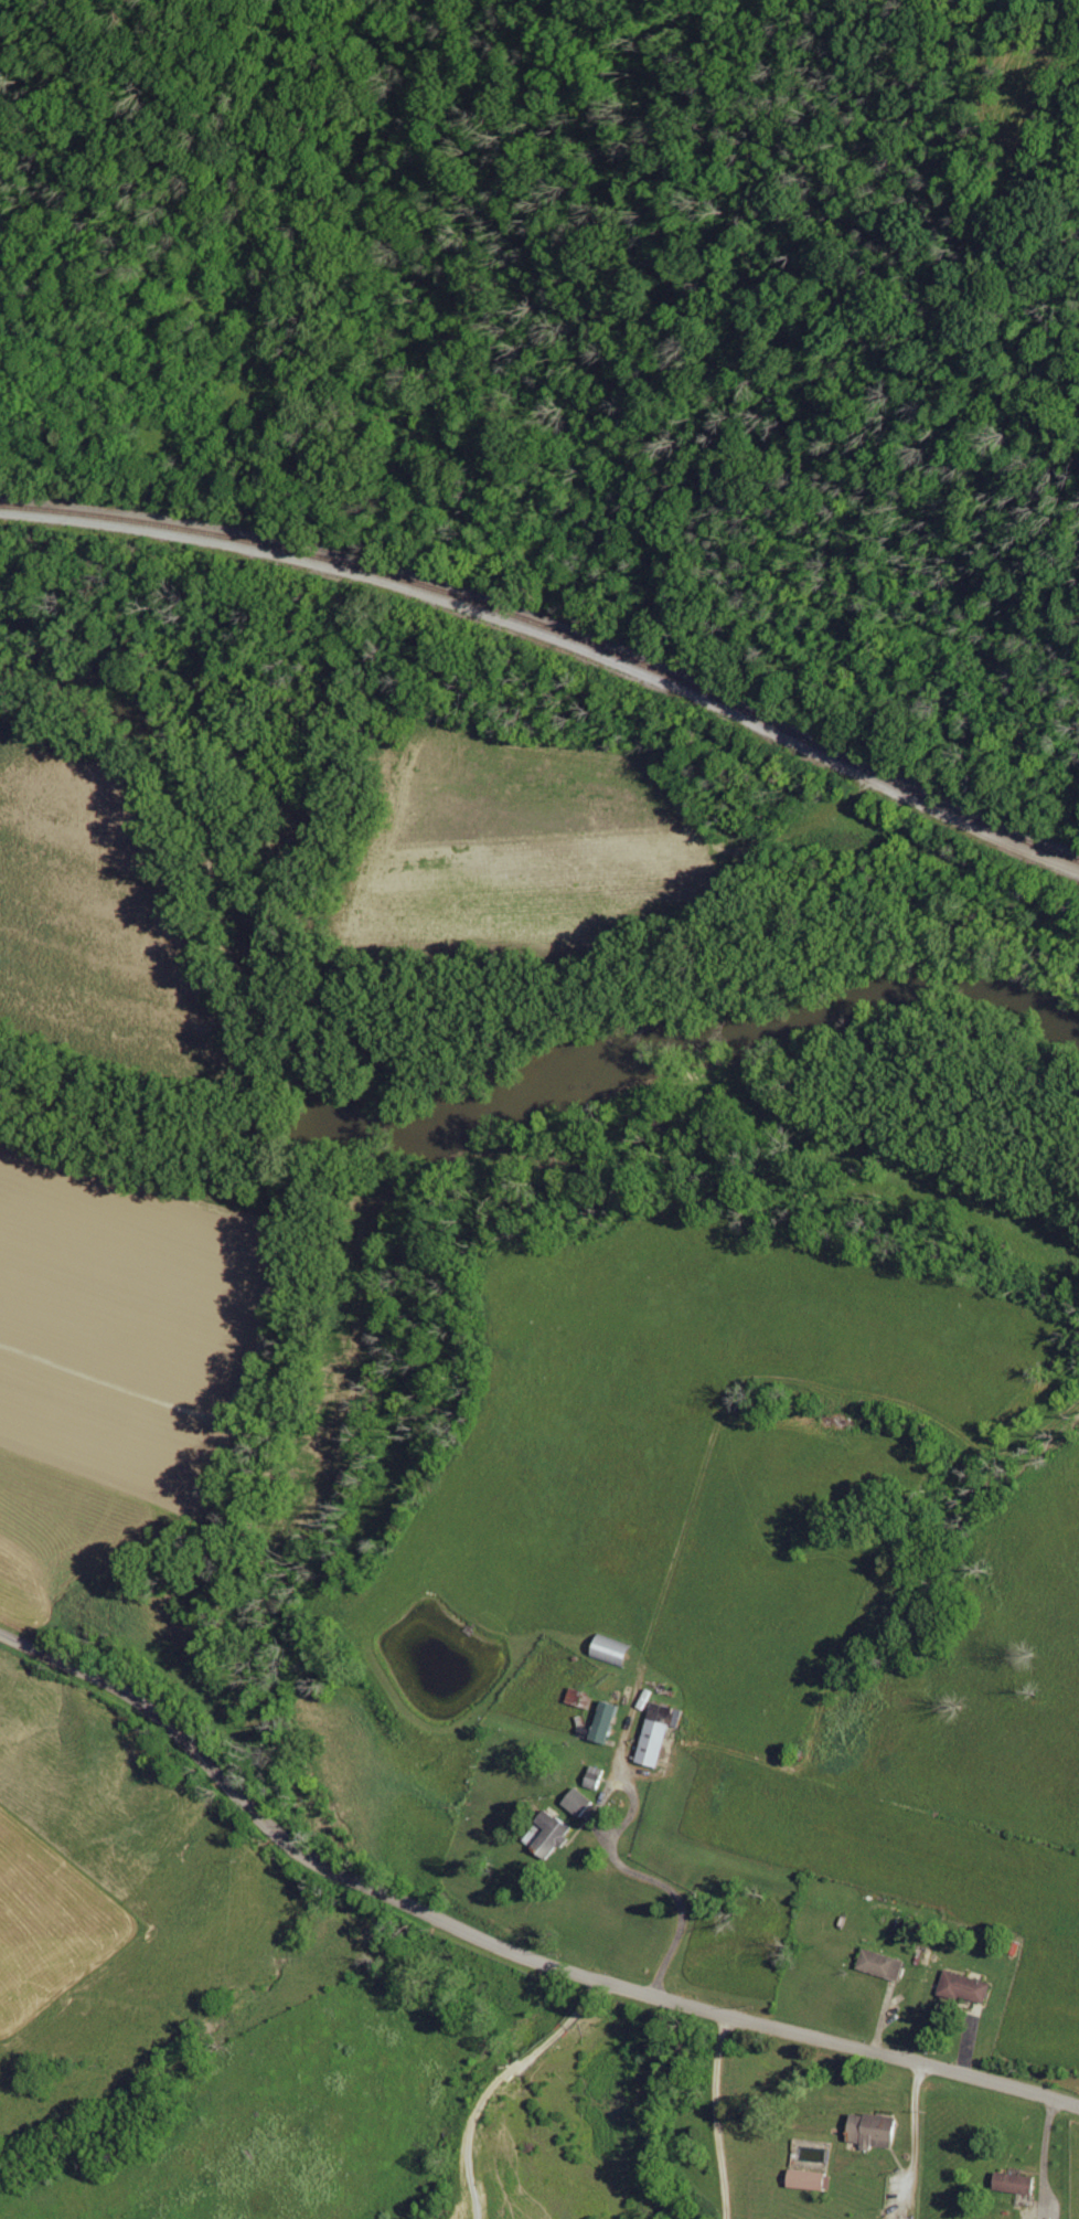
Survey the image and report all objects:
railway: (555, 670)
building: (583, 1697)
building: (608, 1721)
building: (660, 1732)
building: (596, 1776)
building: (579, 1801)
building: (552, 1834)
road: (661, 1887)
road: (501, 1947)
building: (884, 1964)
building: (966, 1987)
road: (494, 2082)
road: (716, 2116)
road: (915, 2126)
building: (876, 2130)
road: (1040, 2153)
building: (812, 2180)
building: (1017, 2183)

